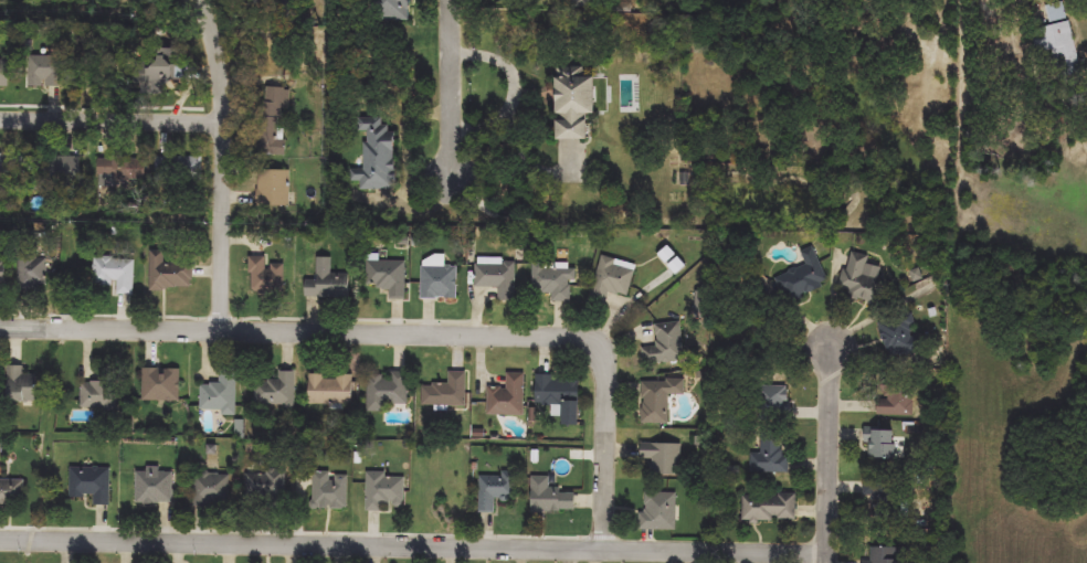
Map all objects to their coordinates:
building: (293, 3)
building: (588, 4)
building: (389, 10)
building: (1058, 42)
road: (961, 47)
building: (46, 70)
building: (6, 73)
building: (156, 73)
road: (452, 93)
building: (572, 102)
road: (98, 104)
road: (112, 108)
building: (271, 124)
building: (377, 156)
road: (224, 162)
building: (8, 166)
building: (65, 167)
building: (127, 169)
building: (180, 169)
building: (274, 188)
building: (672, 259)
building: (170, 272)
building: (116, 273)
building: (33, 274)
building: (2, 275)
building: (266, 276)
building: (389, 276)
building: (804, 276)
building: (497, 278)
building: (612, 279)
building: (862, 279)
building: (555, 280)
building: (327, 281)
building: (440, 283)
road: (102, 315)
road: (219, 317)
road: (353, 319)
road: (409, 329)
building: (900, 336)
building: (666, 344)
building: (20, 385)
building: (161, 385)
building: (330, 390)
building: (388, 390)
building: (277, 391)
building: (446, 392)
building: (220, 395)
building: (99, 396)
building: (559, 396)
building: (508, 397)
building: (658, 400)
building: (895, 401)
building: (777, 402)
building: (879, 444)
road: (829, 454)
building: (771, 457)
building: (663, 458)
building: (92, 485)
building: (267, 486)
building: (155, 487)
building: (495, 489)
building: (212, 490)
building: (12, 491)
building: (330, 491)
building: (386, 493)
building: (439, 495)
building: (550, 497)
building: (882, 497)
building: (770, 508)
building: (659, 512)
road: (293, 529)
road: (603, 534)
road: (413, 543)
building: (887, 555)

